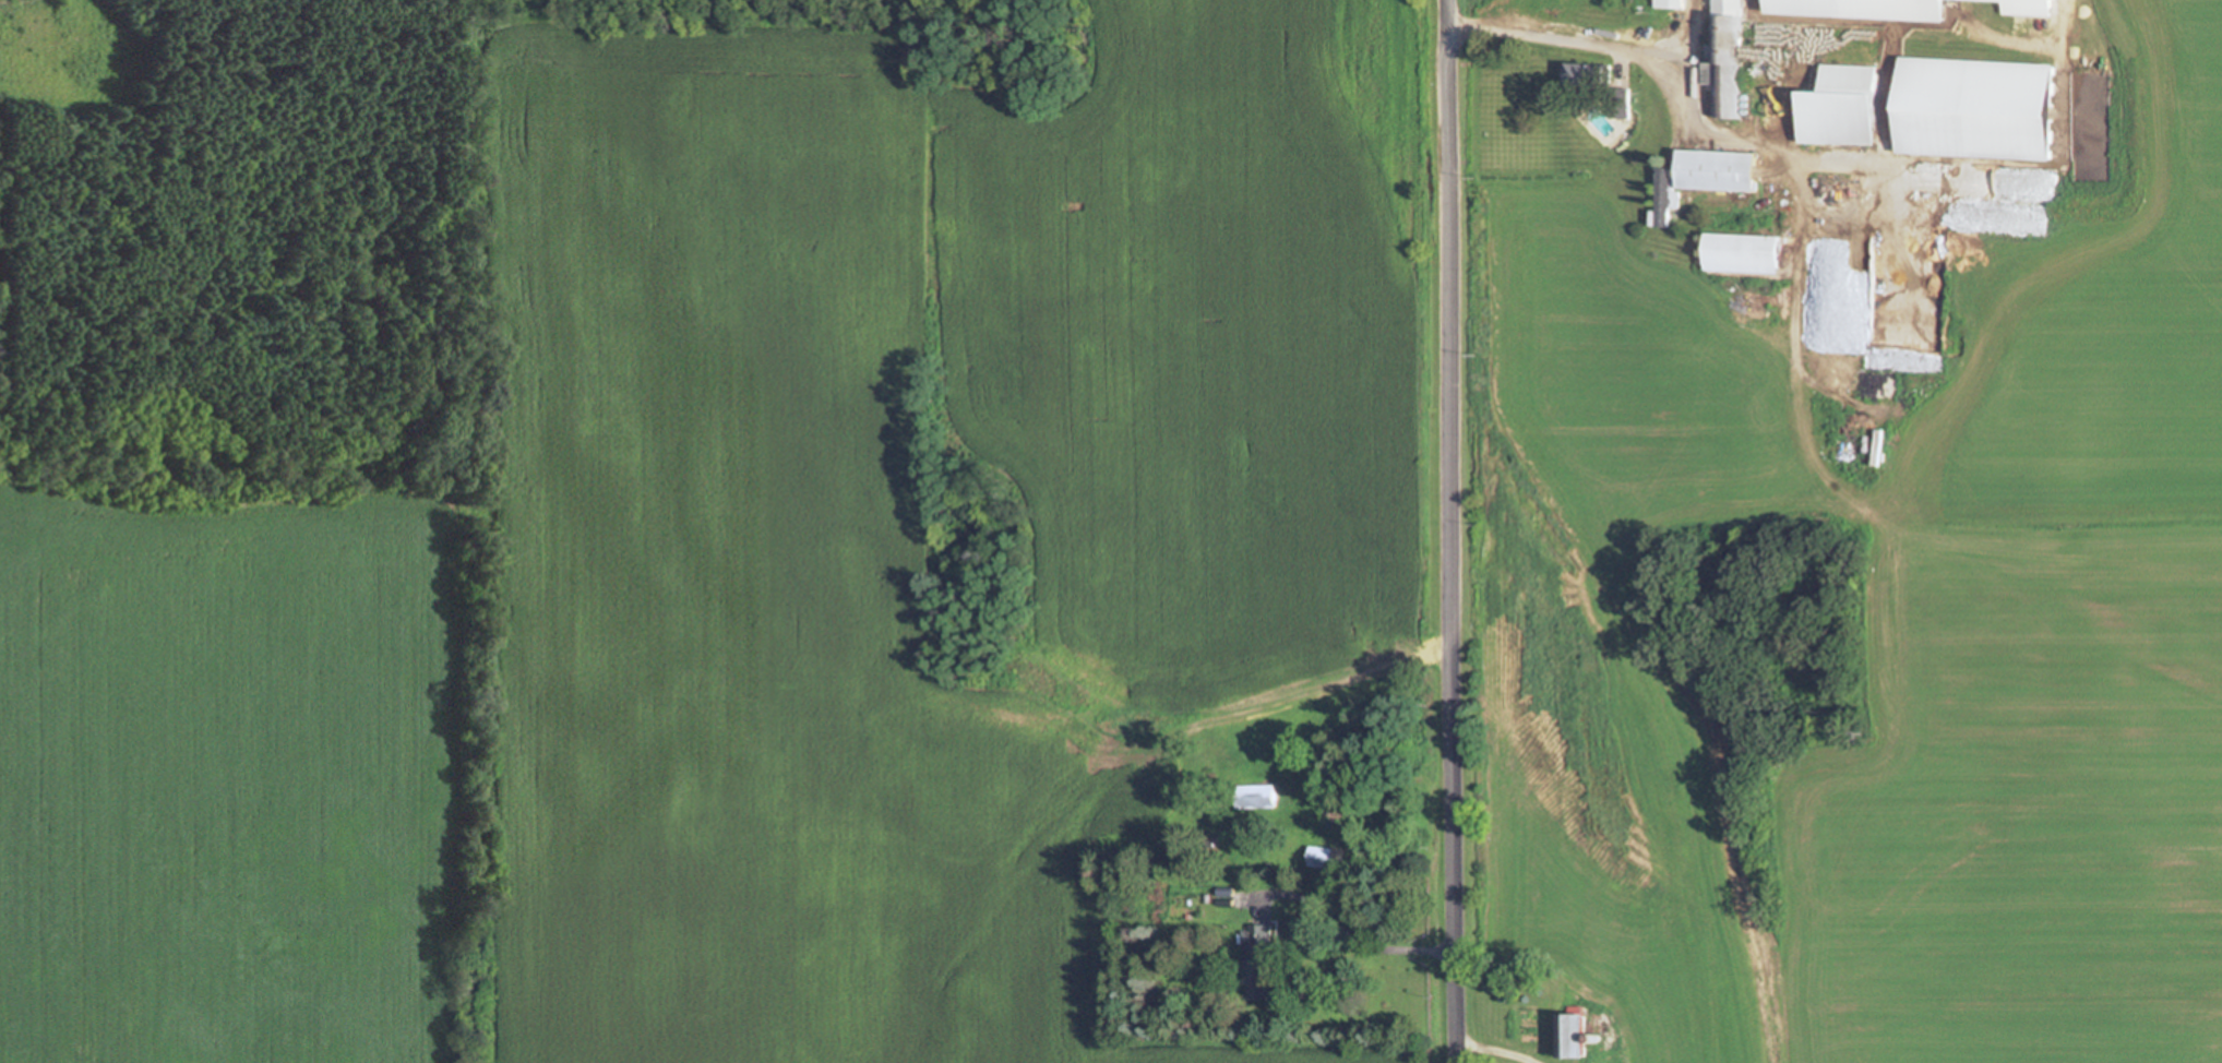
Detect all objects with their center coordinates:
building: (1665, 3)
building: (1885, 4)
road: (1561, 40)
building: (1737, 51)
building: (1578, 72)
building: (1974, 85)
building: (1839, 107)
building: (1701, 176)
building: (1830, 190)
building: (1742, 249)
road: (1459, 531)
building: (1257, 797)
building: (1323, 858)
road: (1366, 941)
building: (1256, 962)
building: (1573, 1036)

